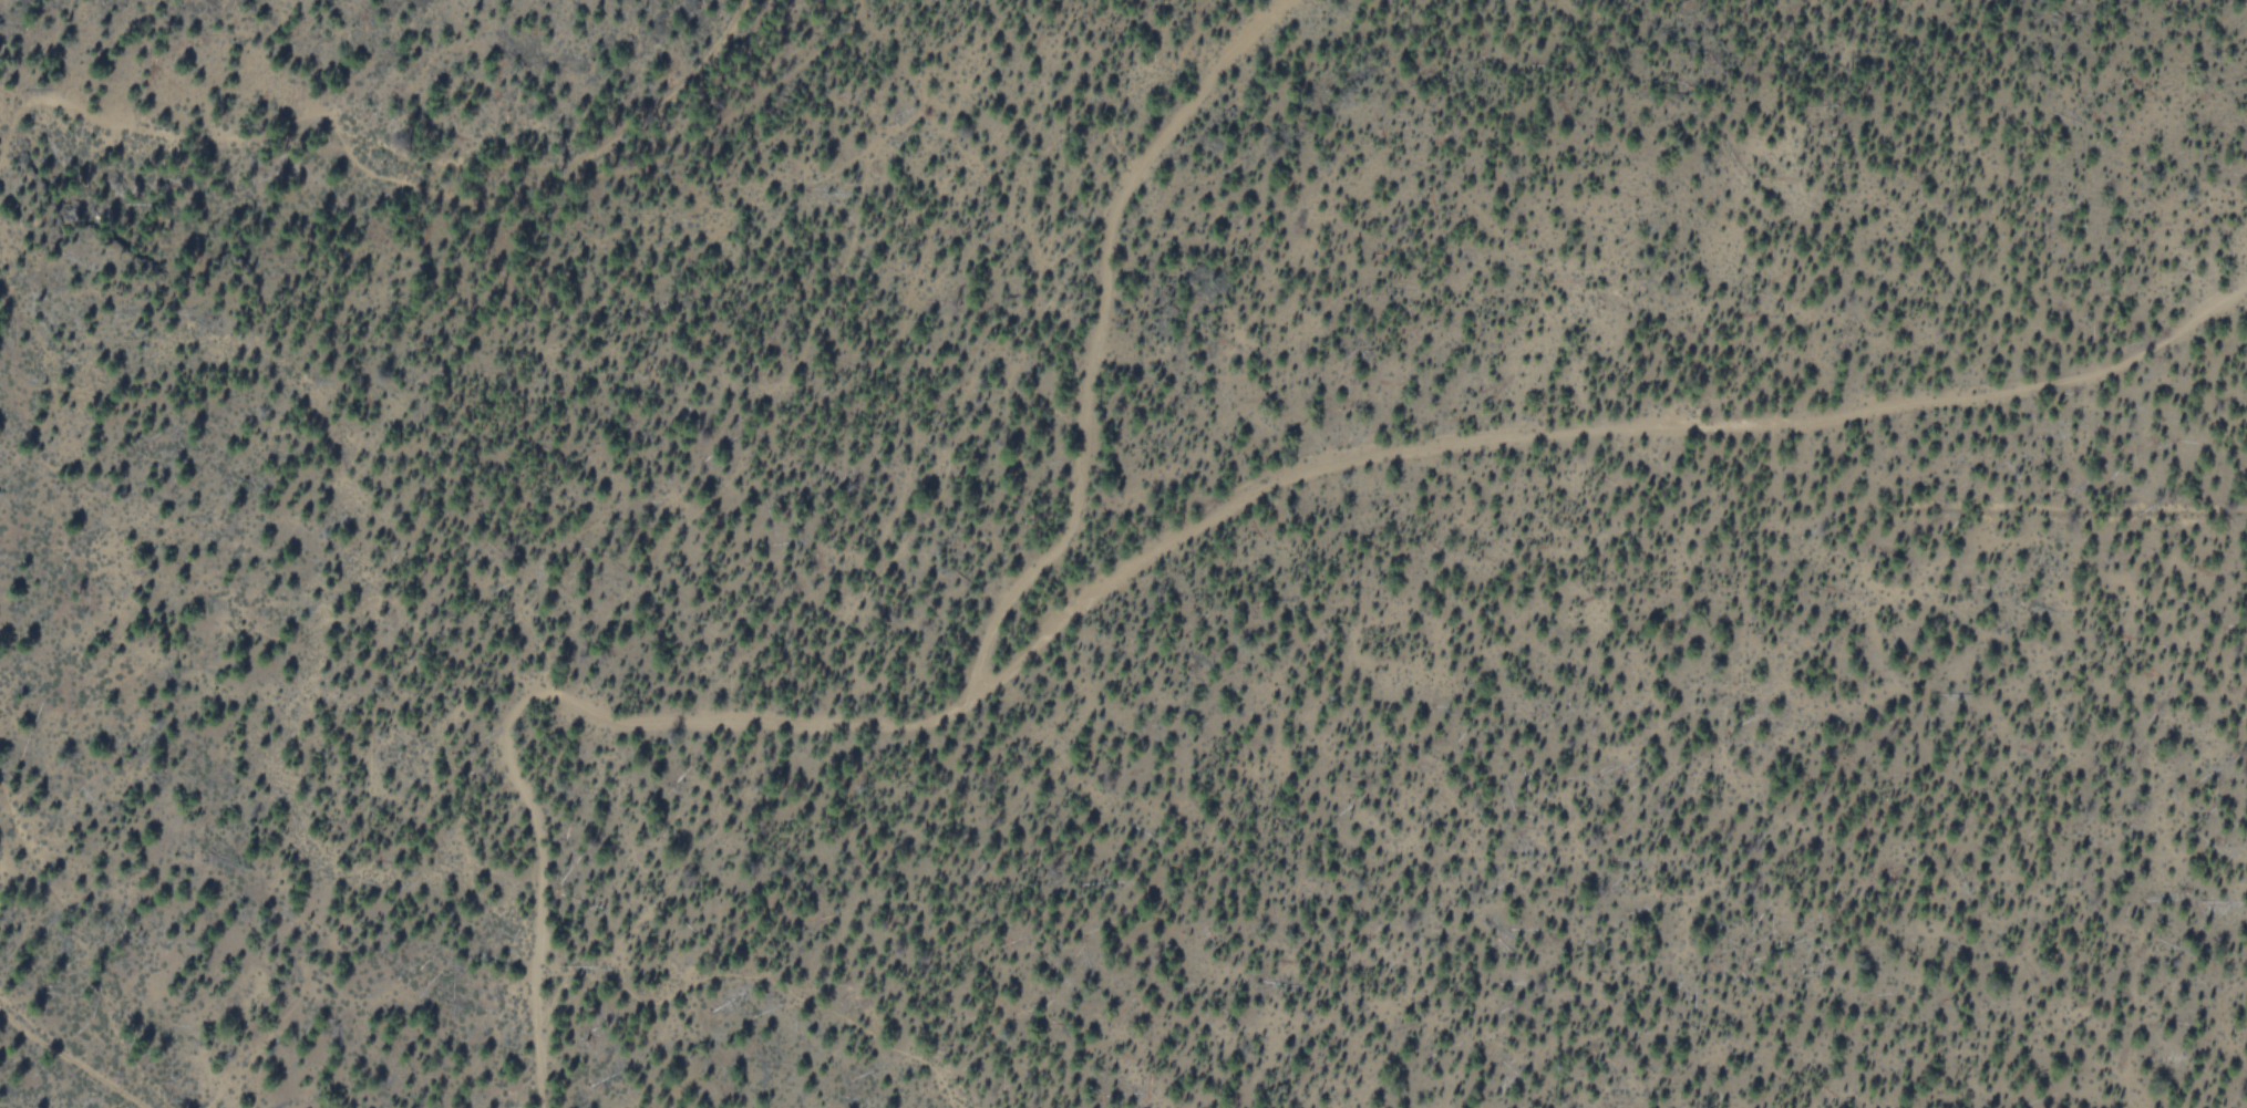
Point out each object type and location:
road: (1094, 331)
road: (1163, 549)
road: (66, 1059)

